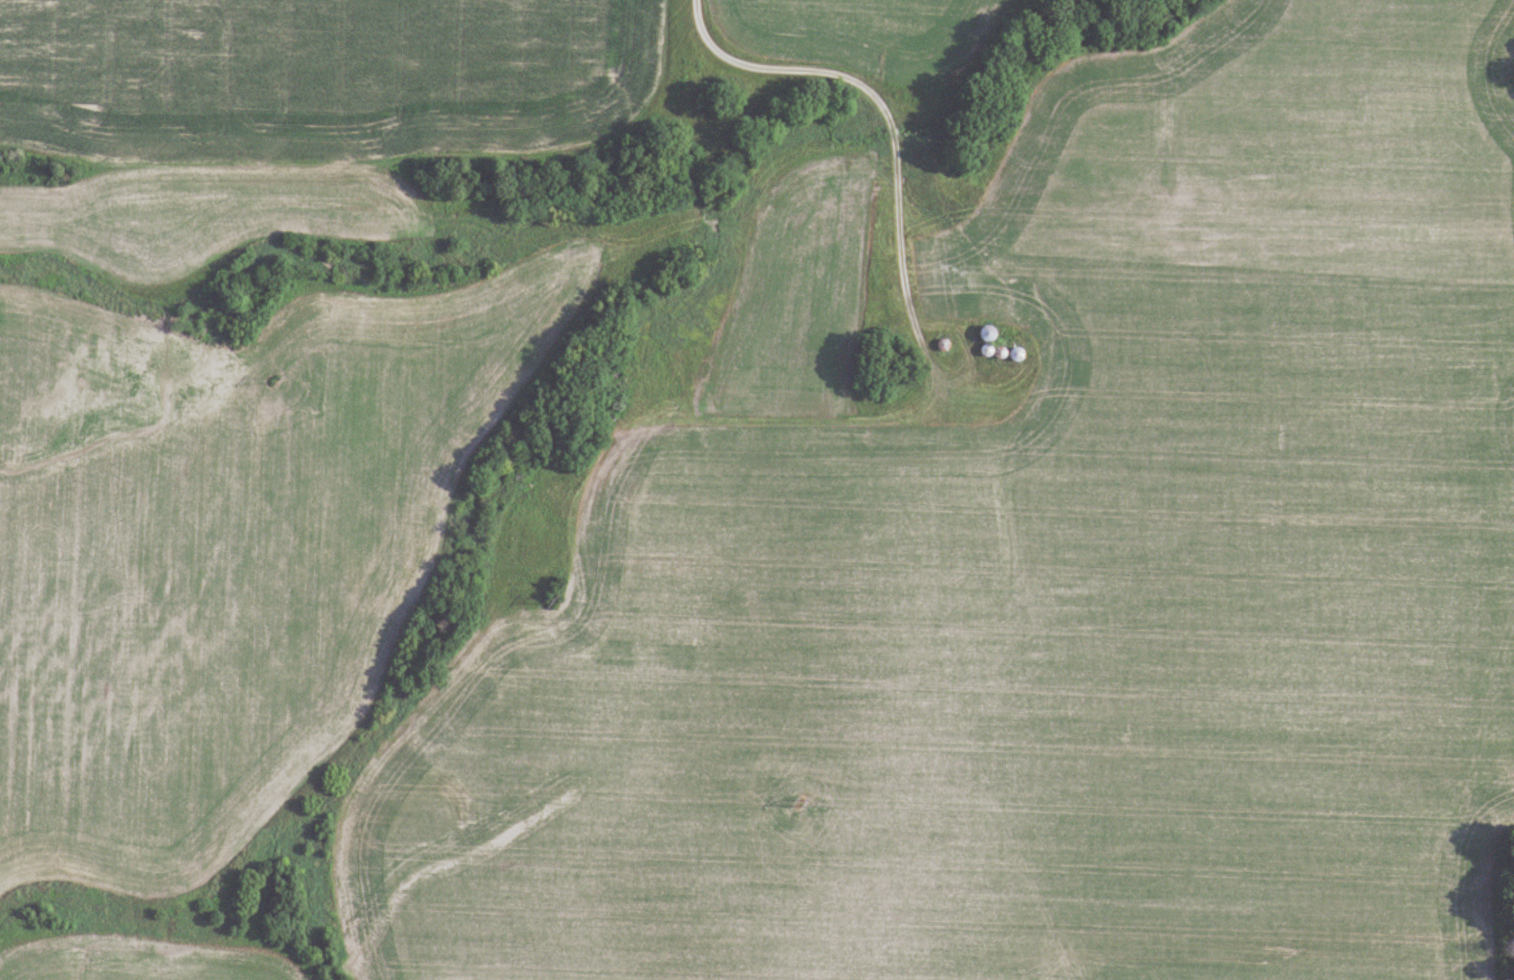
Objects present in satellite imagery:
road: (800, 69)

